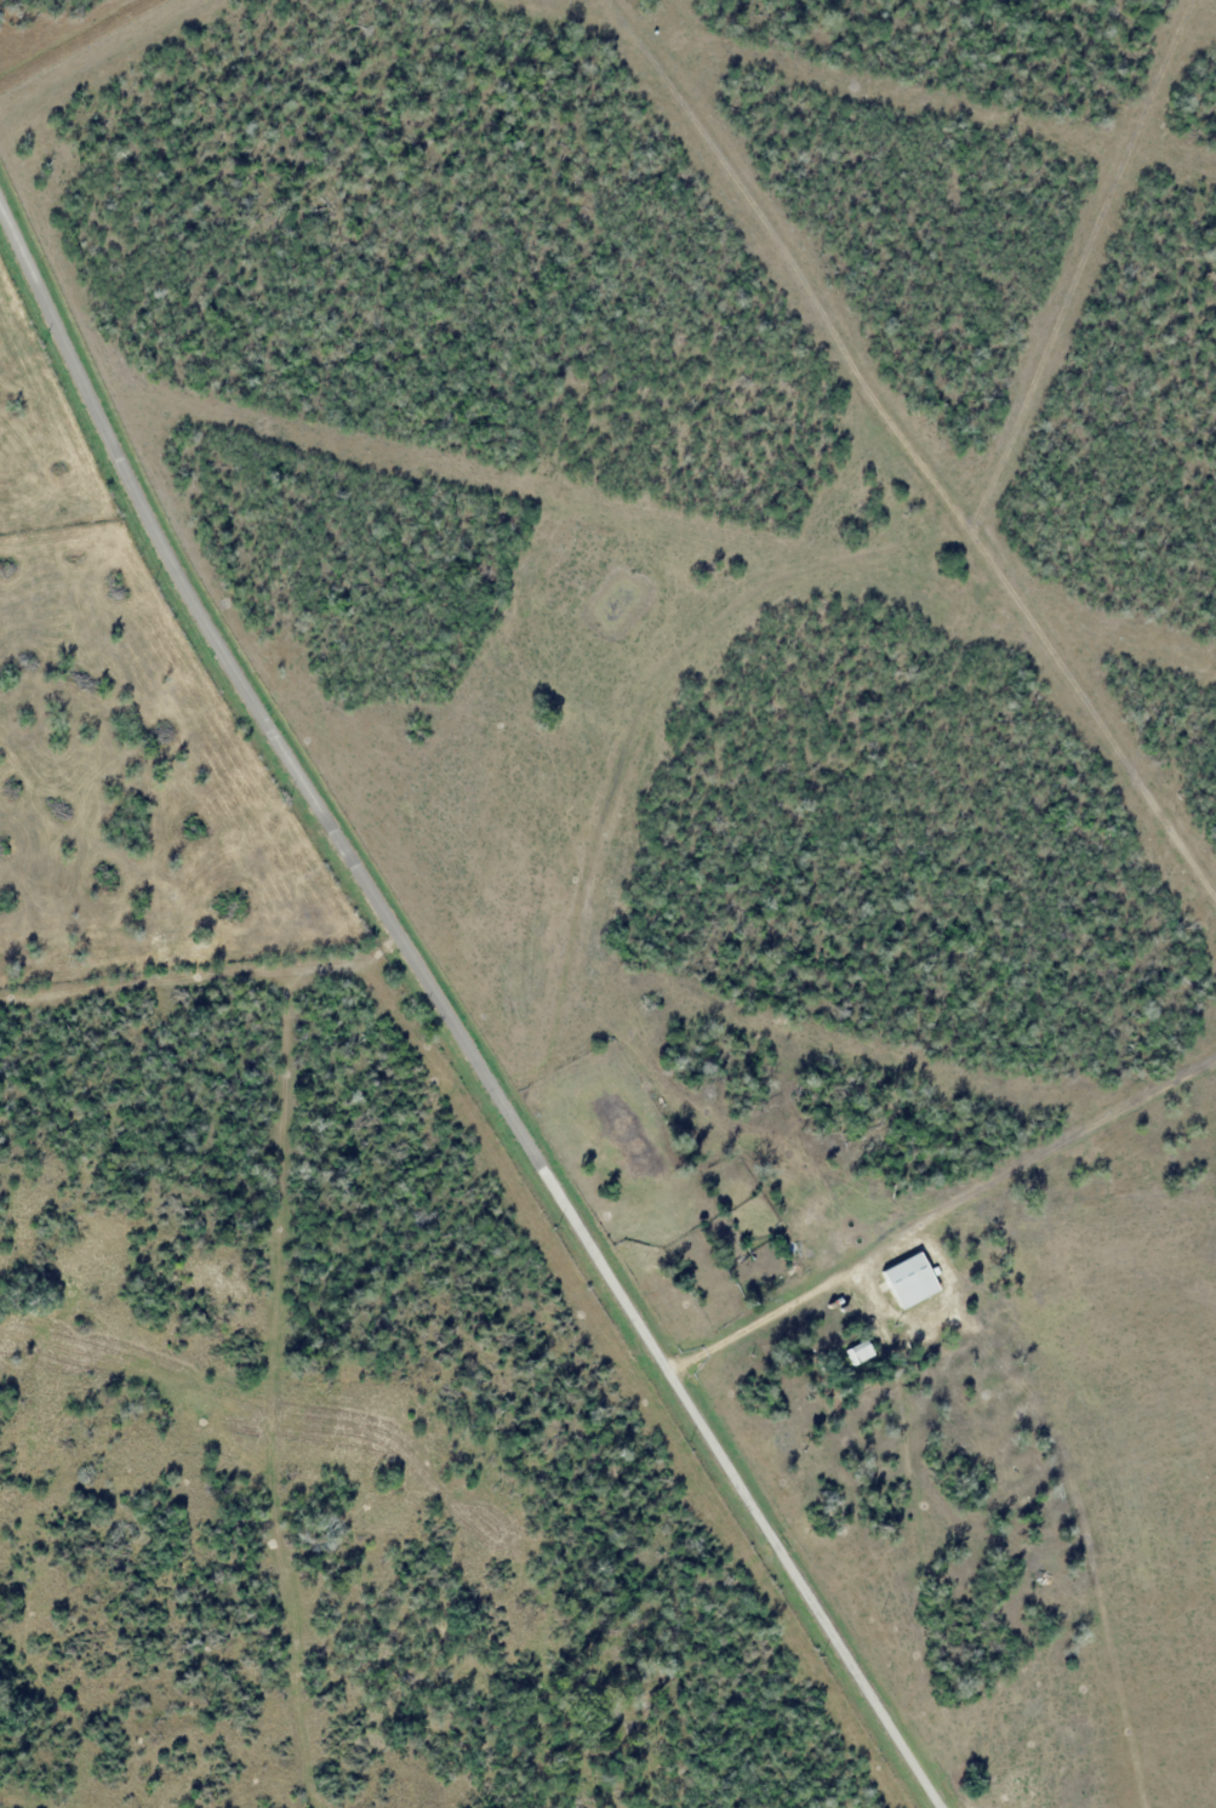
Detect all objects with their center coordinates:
road: (452, 1011)
building: (909, 1282)
road: (935, 1538)

